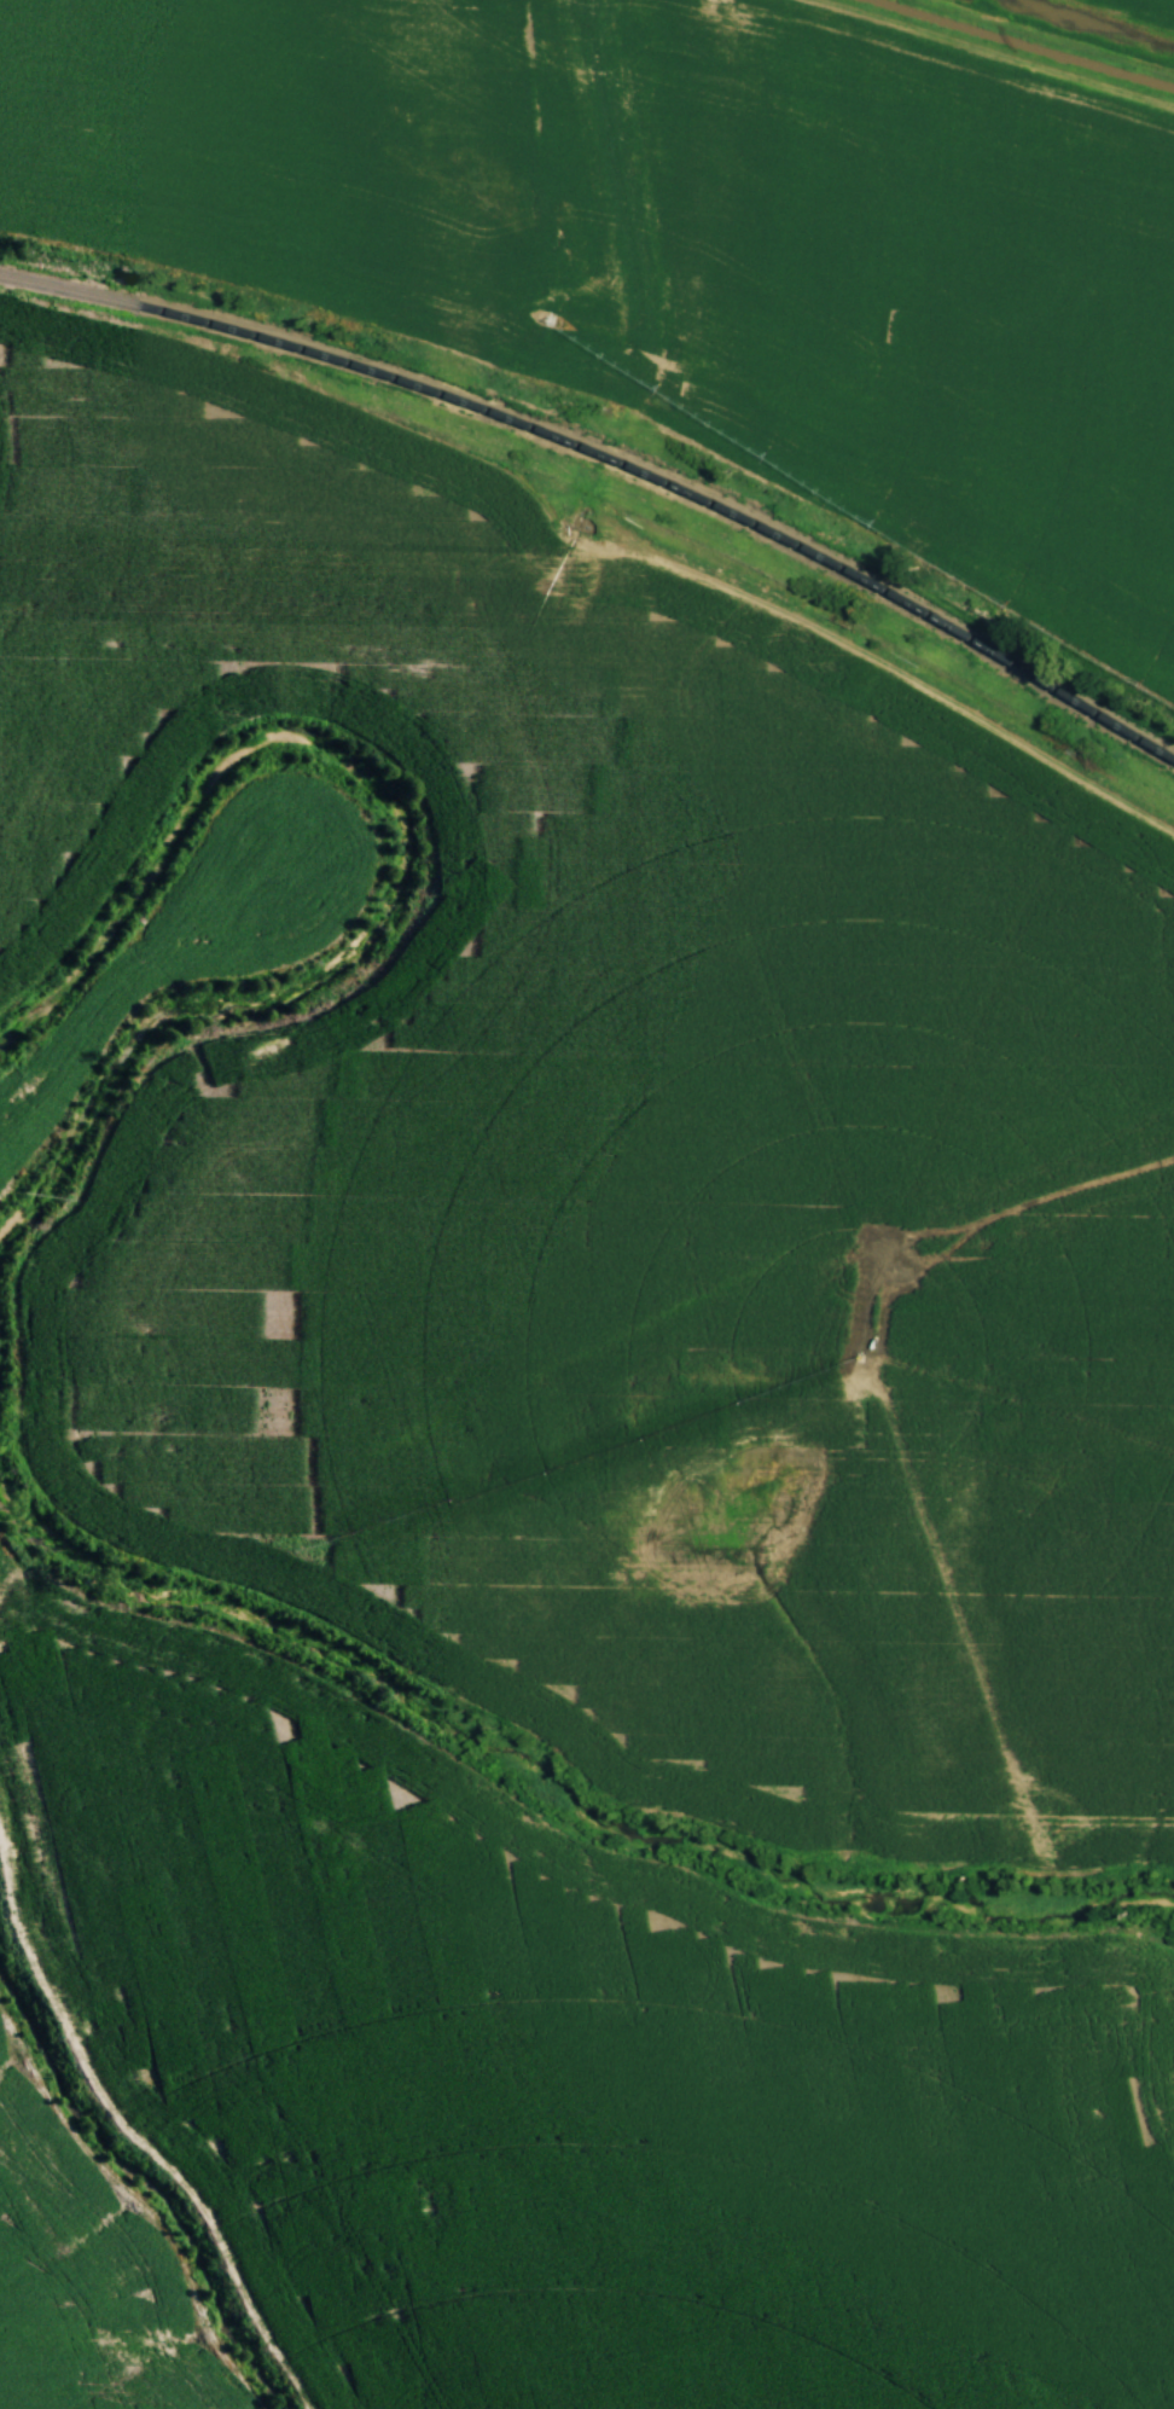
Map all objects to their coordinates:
railway: (610, 459)

